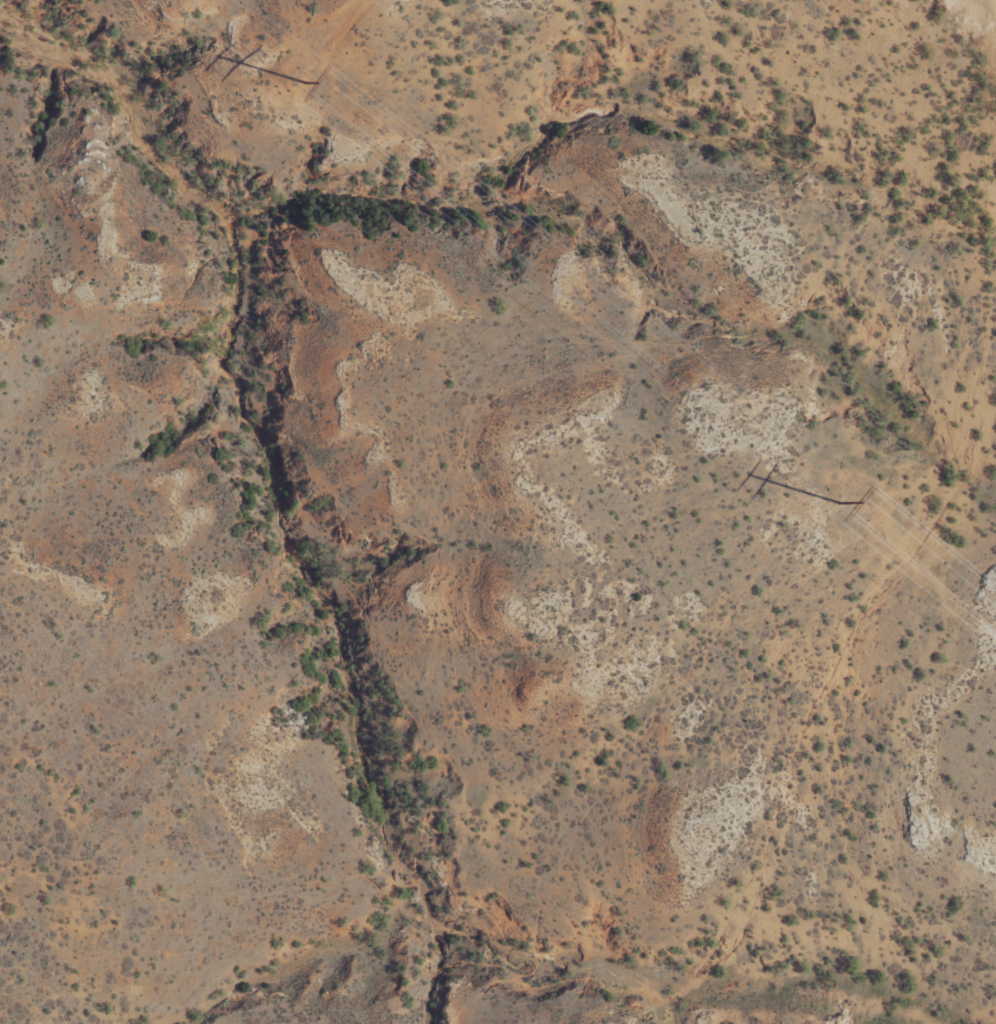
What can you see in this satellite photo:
power tower: (305, 82)
power tower: (840, 502)

